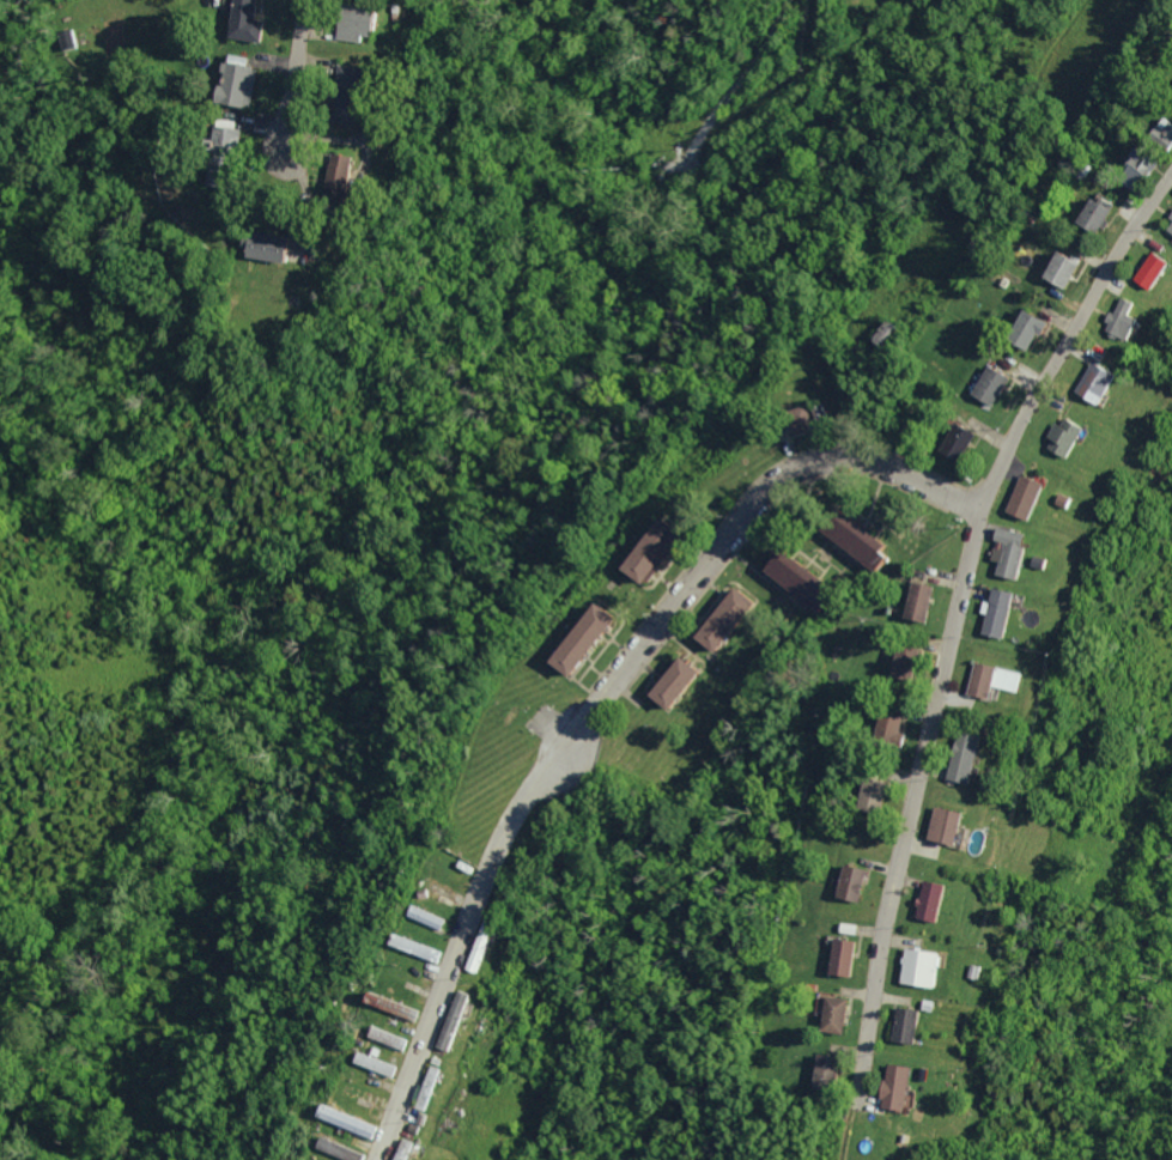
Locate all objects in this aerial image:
building: (237, 19)
building: (336, 20)
building: (365, 22)
building: (87, 31)
building: (243, 80)
building: (226, 84)
road: (294, 86)
building: (329, 92)
building: (1162, 136)
building: (215, 140)
building: (345, 174)
building: (1132, 174)
building: (314, 176)
building: (171, 211)
building: (1093, 217)
building: (1168, 232)
building: (248, 244)
building: (277, 245)
building: (1061, 275)
building: (1152, 280)
building: (1026, 333)
building: (1123, 333)
road: (1070, 339)
building: (988, 385)
building: (1095, 396)
building: (791, 407)
building: (813, 412)
building: (958, 442)
building: (1065, 448)
building: (1025, 504)
building: (1061, 508)
building: (860, 543)
building: (649, 549)
building: (1009, 560)
building: (795, 578)
building: (916, 602)
building: (721, 609)
building: (997, 620)
building: (578, 636)
building: (909, 661)
building: (673, 681)
building: (980, 686)
building: (1006, 687)
road: (594, 709)
building: (964, 772)
building: (875, 792)
road: (886, 830)
building: (945, 836)
building: (846, 883)
building: (436, 893)
building: (928, 912)
building: (426, 922)
building: (846, 931)
building: (424, 949)
building: (479, 949)
building: (412, 953)
building: (838, 964)
building: (921, 982)
building: (976, 985)
building: (818, 1000)
building: (389, 1010)
building: (831, 1020)
building: (928, 1021)
building: (454, 1022)
building: (904, 1036)
building: (393, 1038)
building: (385, 1046)
building: (381, 1064)
building: (372, 1068)
building: (824, 1074)
building: (427, 1098)
building: (898, 1104)
building: (353, 1120)
building: (346, 1129)
building: (346, 1150)
building: (332, 1153)
building: (405, 1156)

